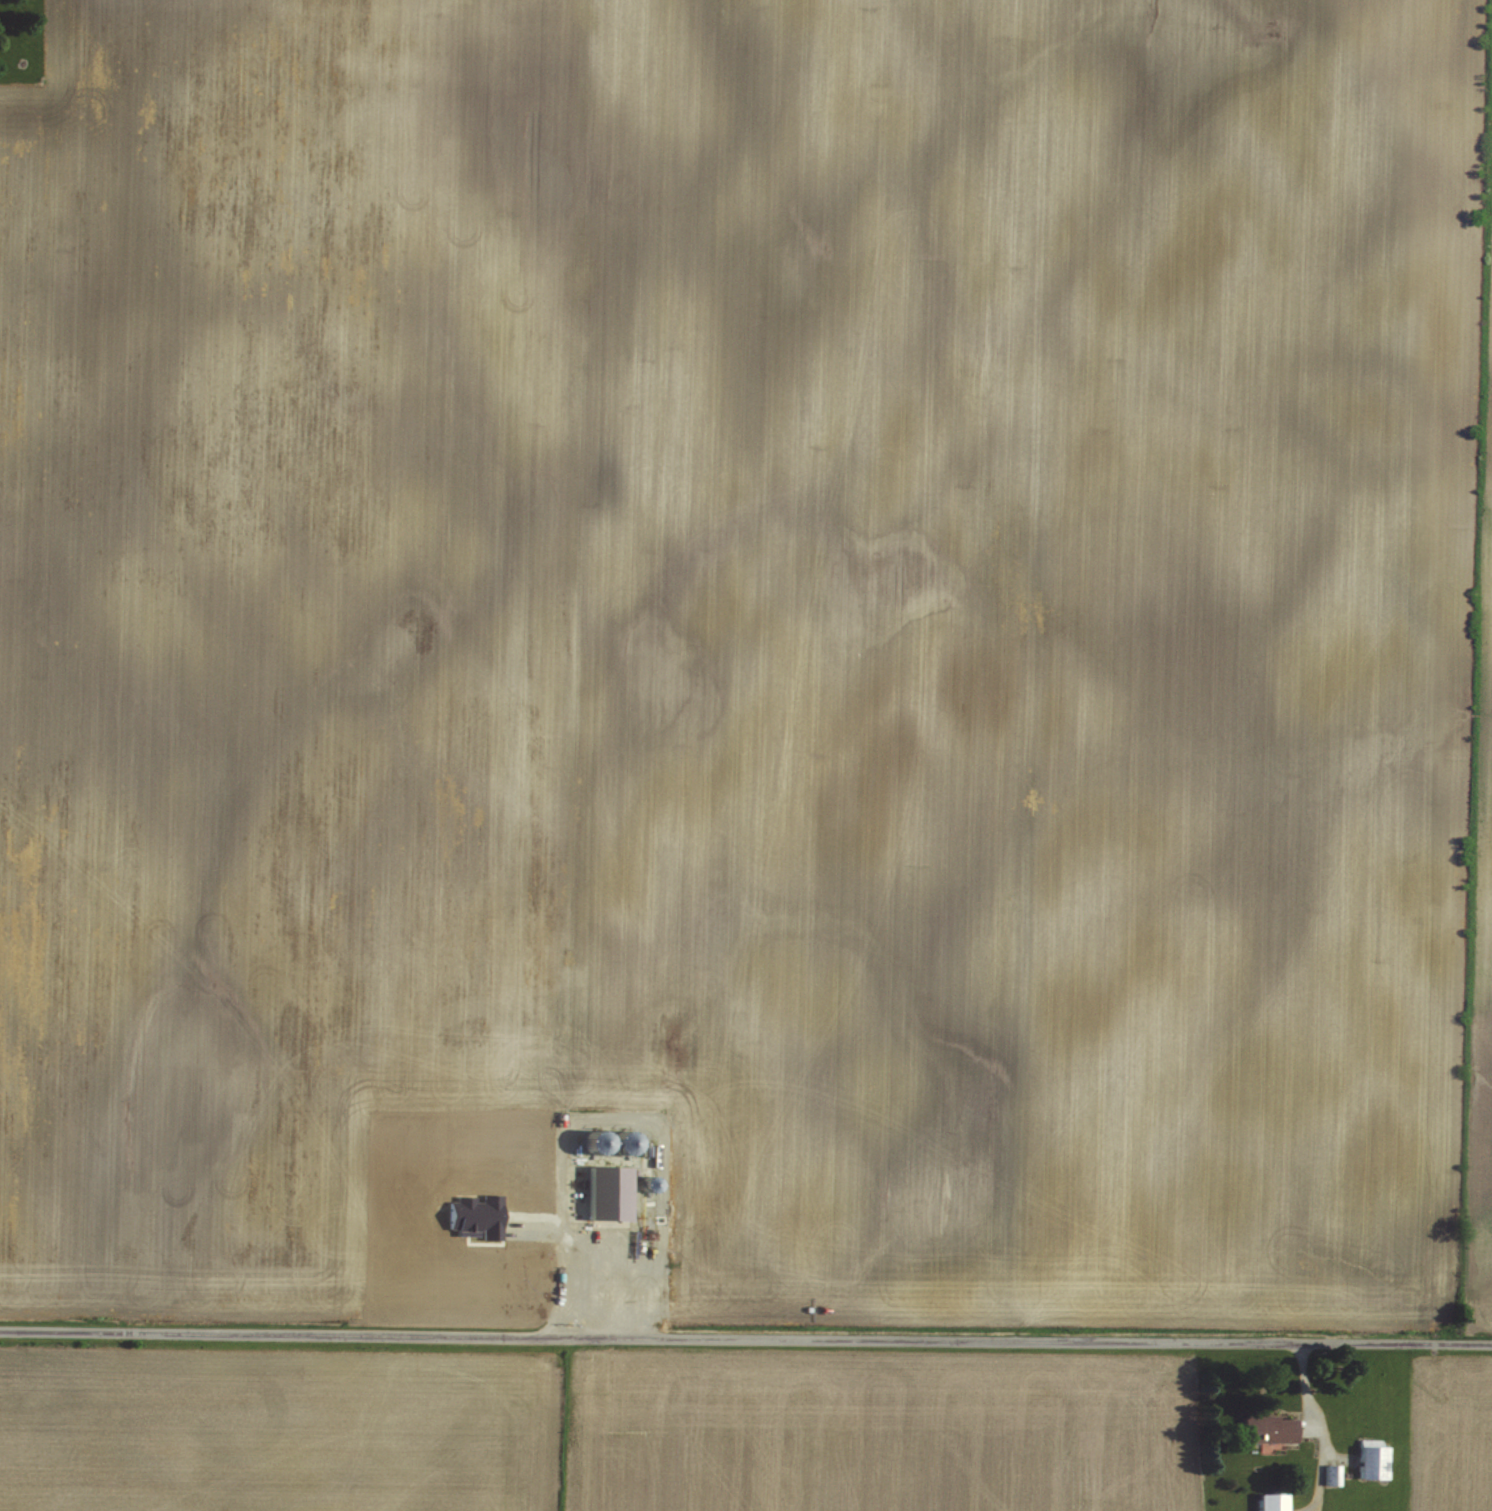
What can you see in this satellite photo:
road: (745, 1340)
building: (1269, 1429)
road: (1311, 1429)
building: (1372, 1460)

